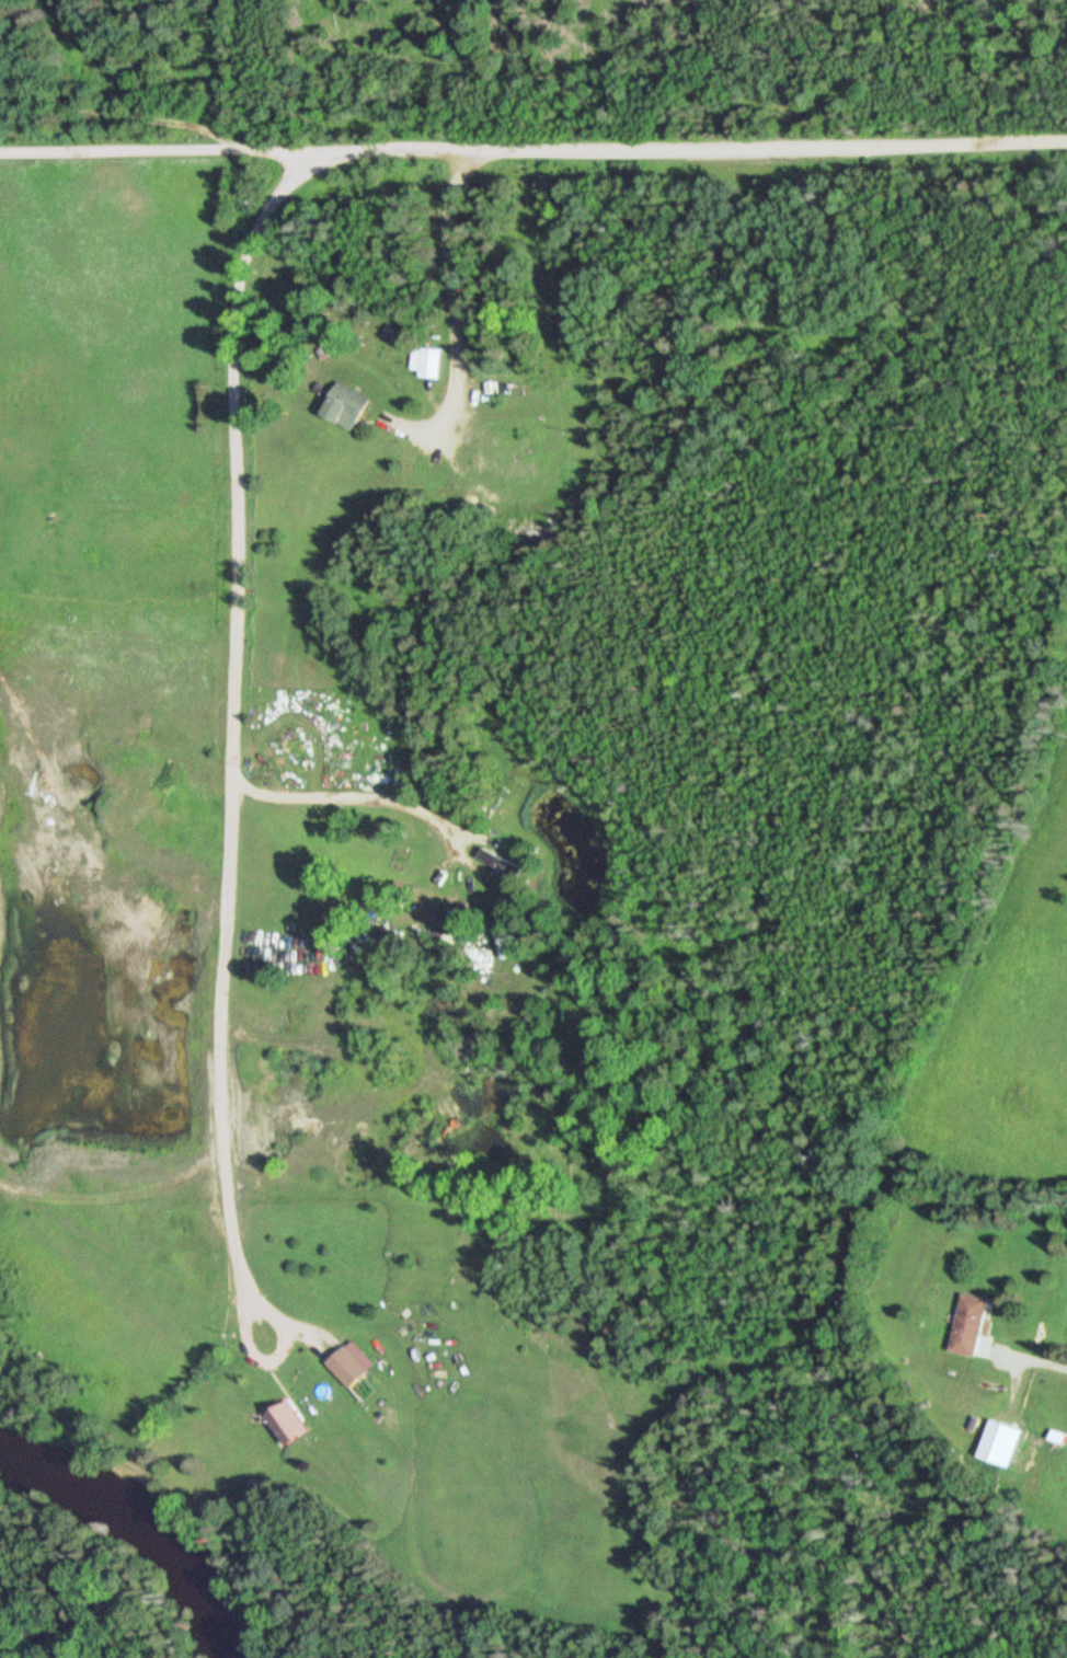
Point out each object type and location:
road: (532, 148)
building: (429, 365)
building: (347, 408)
road: (232, 721)
building: (492, 860)
building: (432, 890)
building: (967, 1325)
road: (1029, 1361)
building: (349, 1365)
building: (287, 1424)
building: (999, 1444)
river: (141, 1527)

